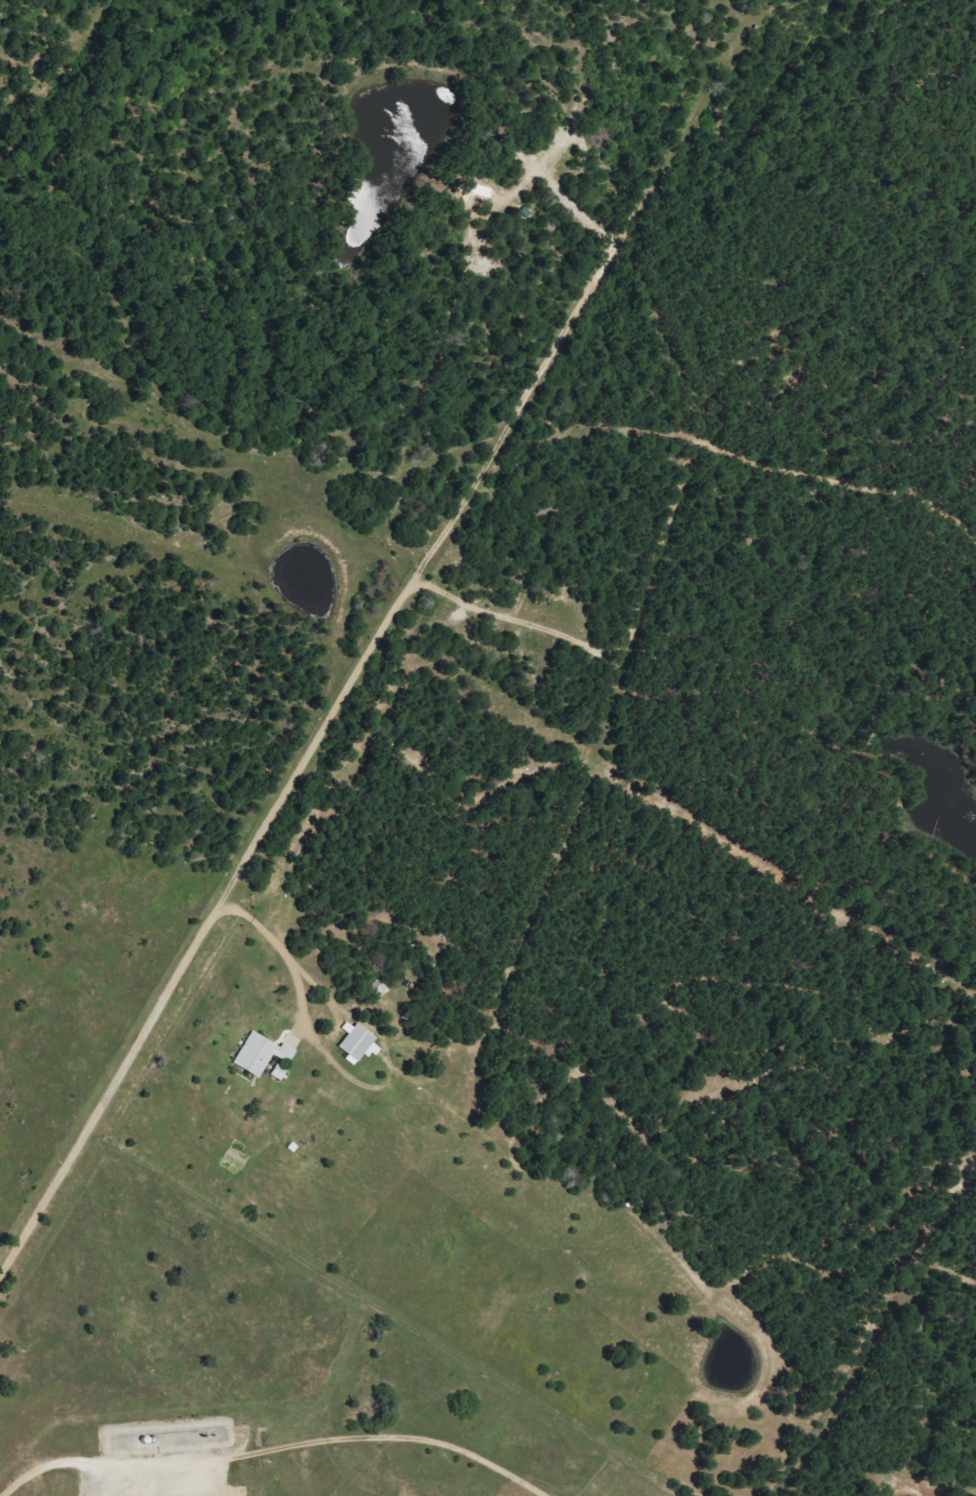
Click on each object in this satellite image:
road: (232, 720)
building: (361, 1040)

